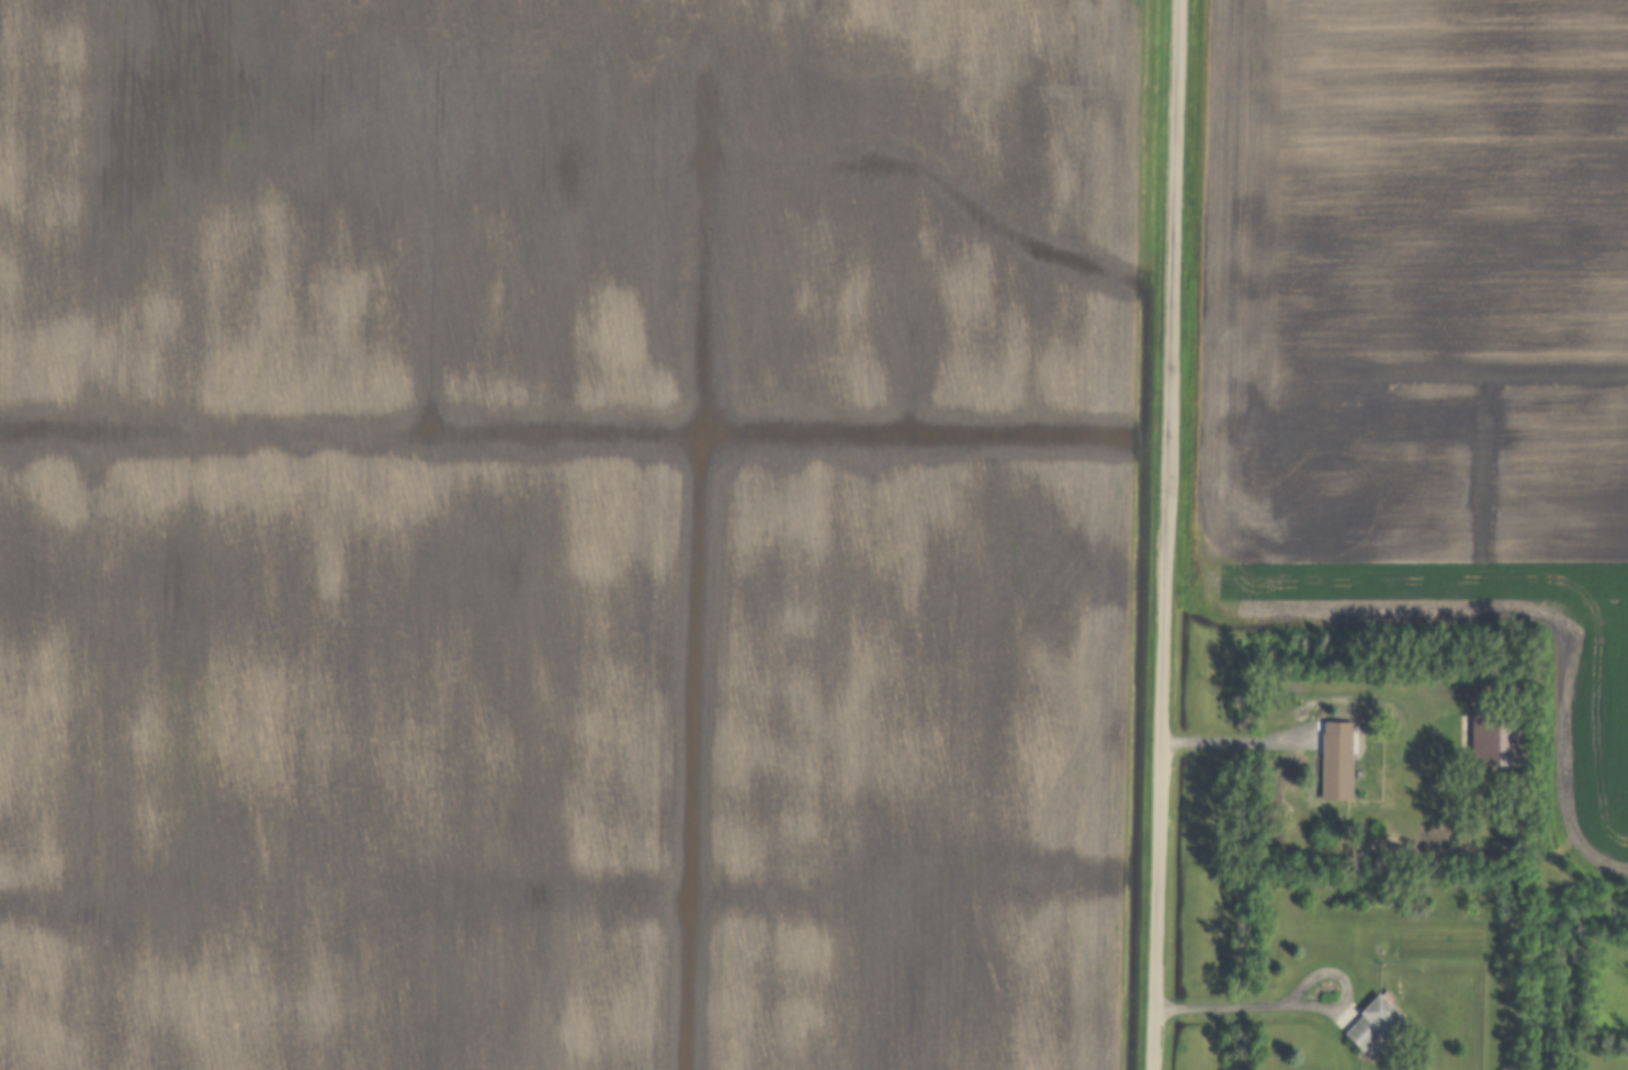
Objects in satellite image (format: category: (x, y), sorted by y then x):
crop: (1425, 341)
crop: (563, 532)
road: (1163, 534)
building: (1495, 737)
road: (1236, 741)
building: (1334, 761)
road: (1298, 1005)
building: (1376, 1022)

